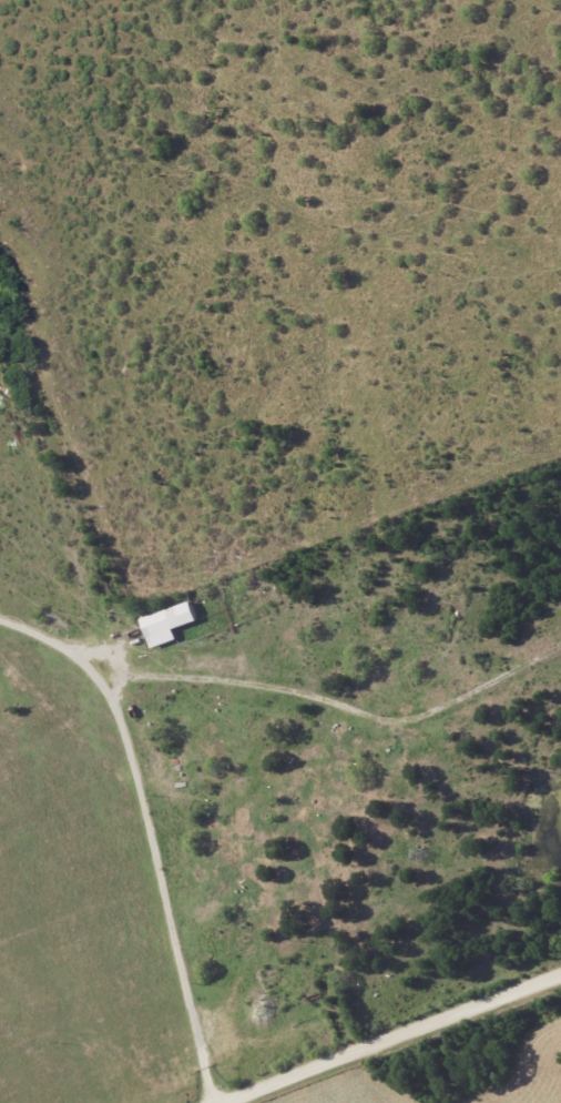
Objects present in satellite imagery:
building: (167, 623)
road: (389, 1038)
road: (265, 1095)

